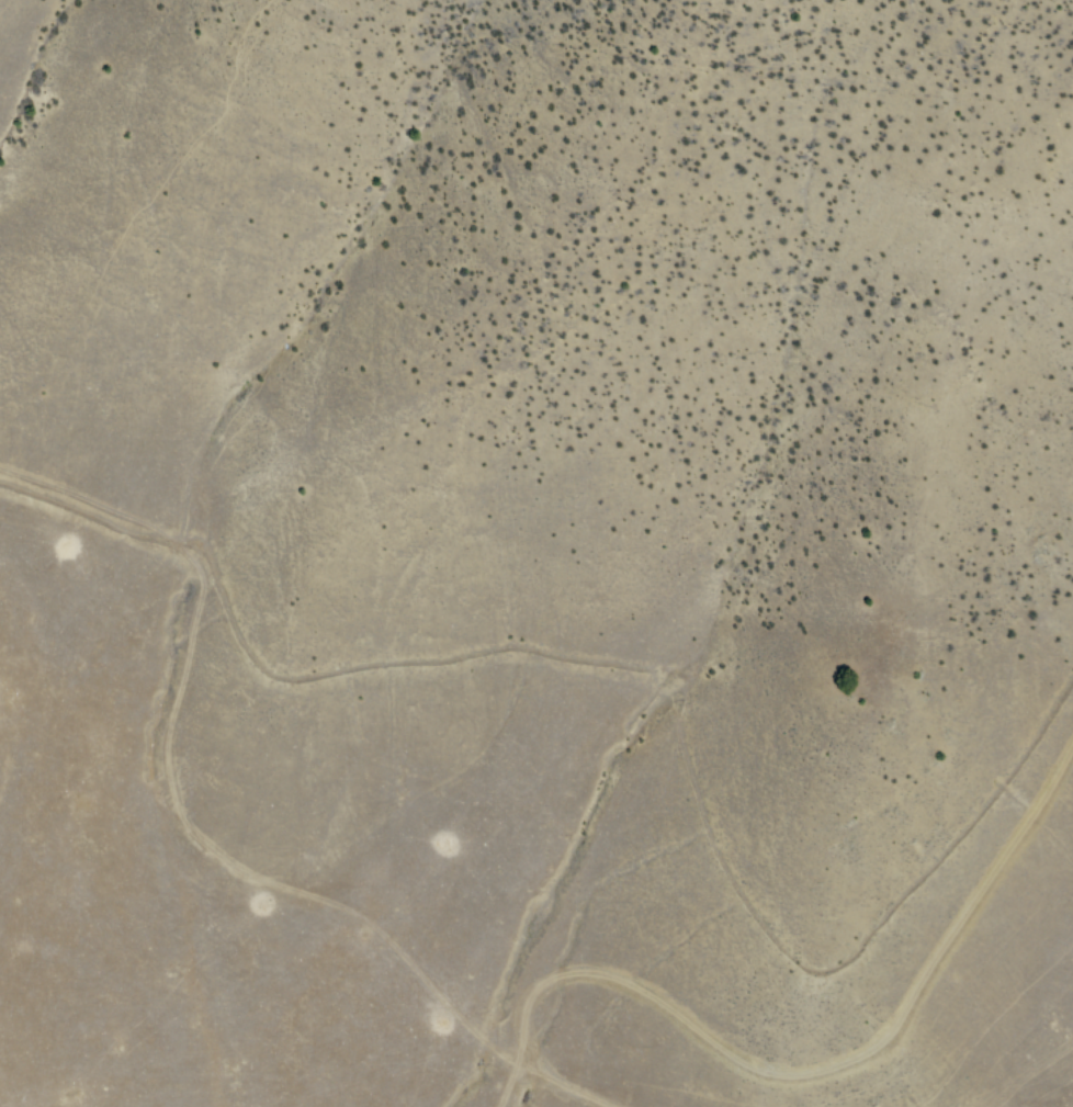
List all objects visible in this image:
road: (189, 843)

